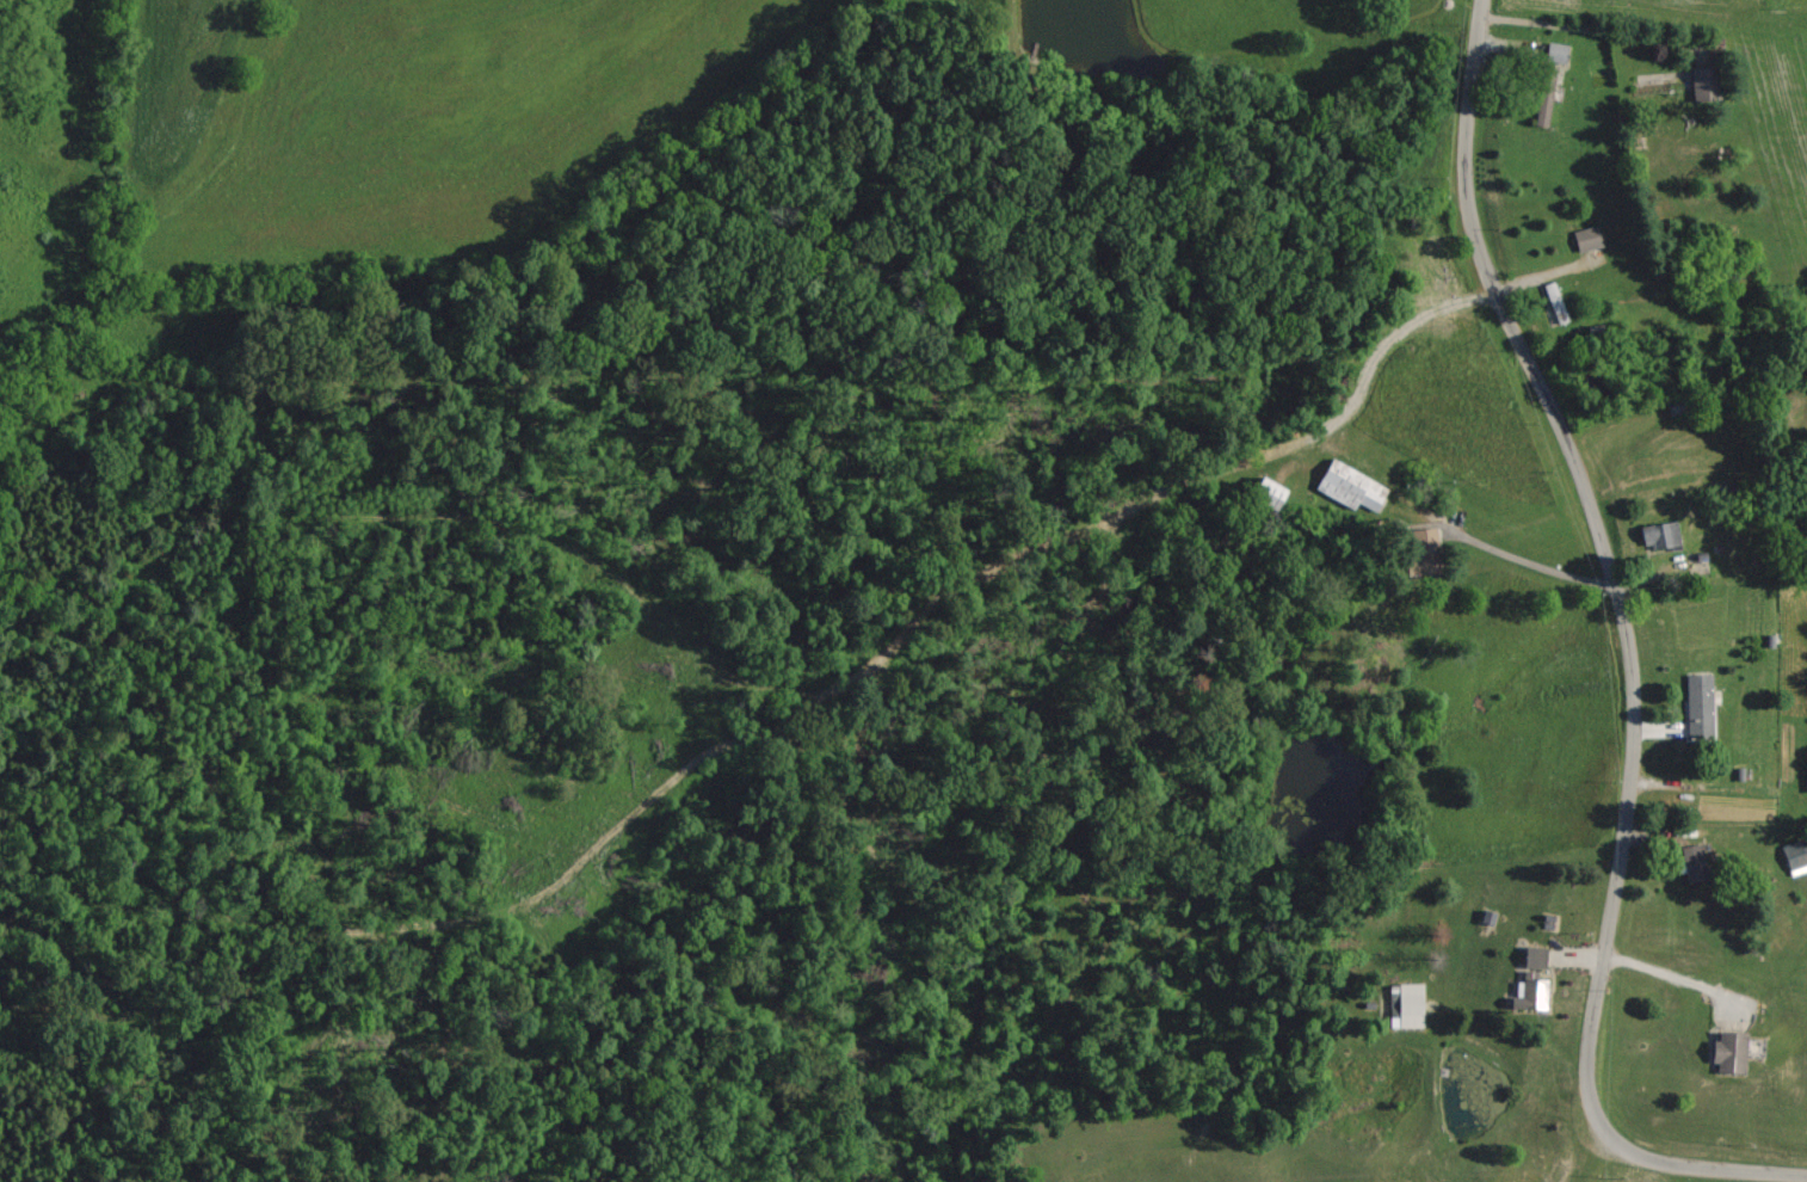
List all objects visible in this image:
building: (1555, 53)
building: (1547, 78)
building: (1702, 84)
building: (1587, 239)
building: (1555, 303)
building: (1349, 486)
building: (1266, 492)
building: (1661, 534)
building: (1423, 552)
road: (1525, 559)
road: (1628, 660)
building: (1698, 707)
building: (1805, 775)
building: (1795, 856)
building: (1691, 862)
building: (1536, 956)
road: (1664, 967)
building: (1407, 1006)
building: (1729, 1051)

